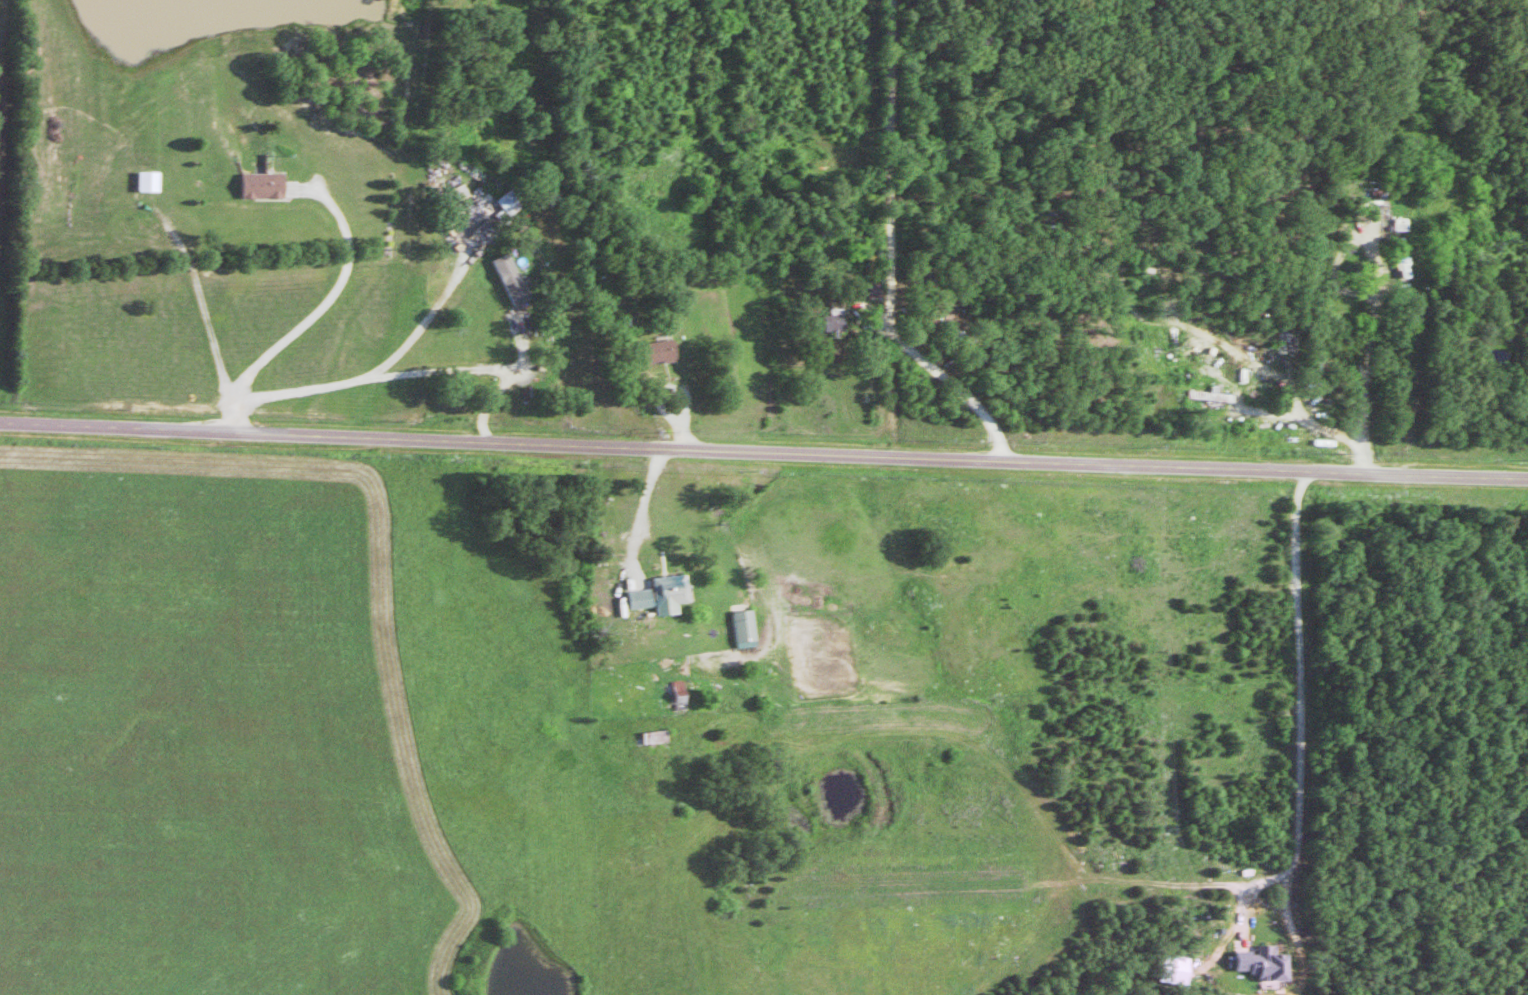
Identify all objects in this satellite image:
building: (266, 185)
road: (896, 229)
building: (1406, 257)
building: (515, 278)
road: (327, 302)
building: (838, 321)
road: (1378, 341)
building: (662, 351)
road: (964, 393)
road: (763, 456)
building: (673, 591)
building: (643, 597)
building: (748, 627)
building: (1268, 963)
building: (1177, 968)

